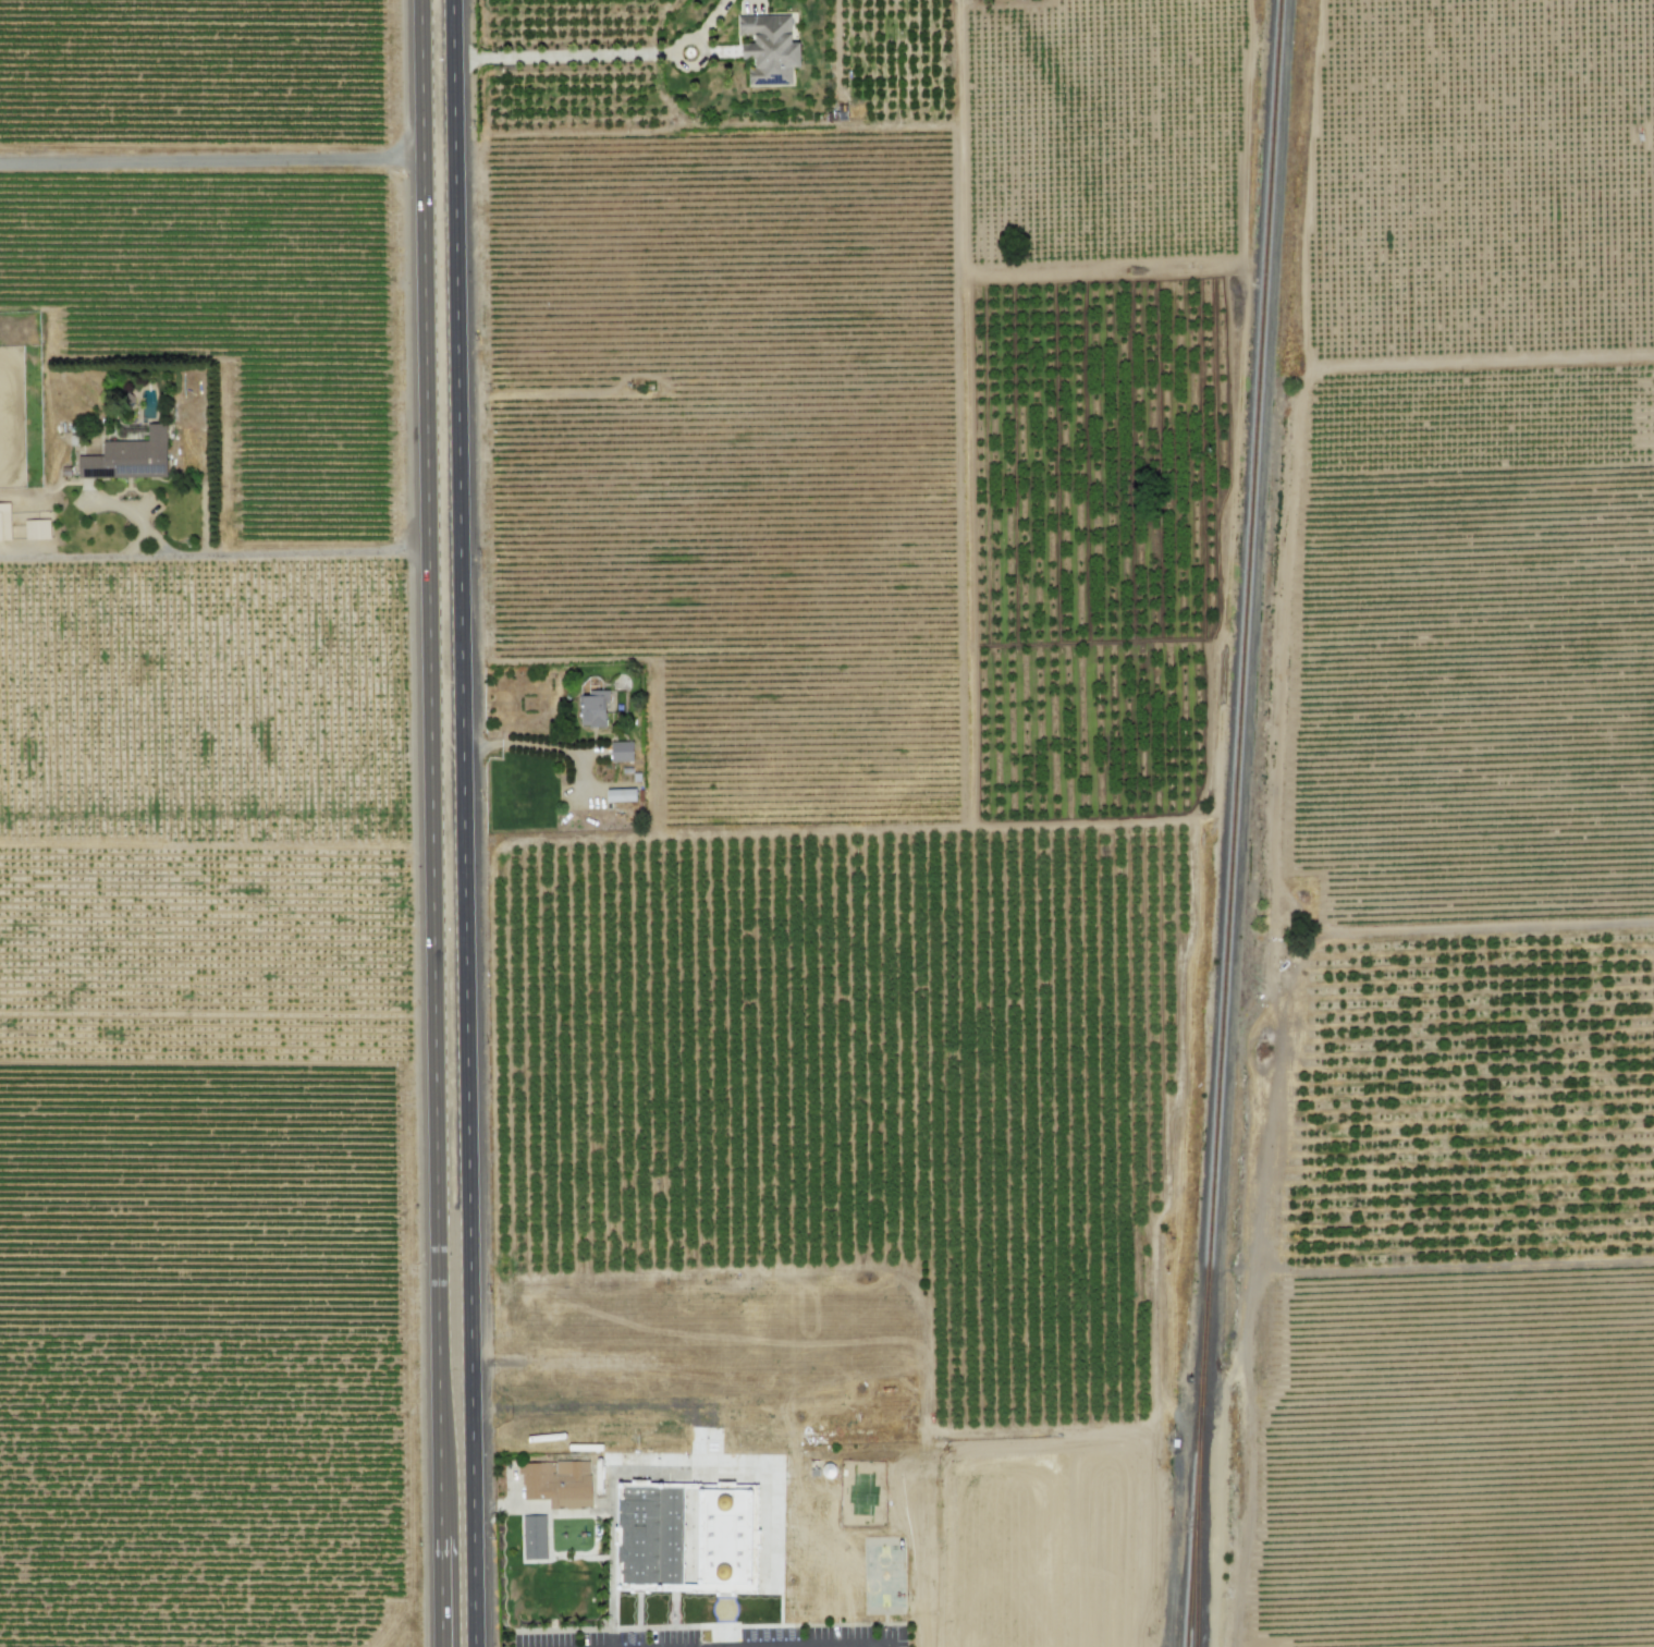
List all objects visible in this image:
road: (697, 27)
road: (563, 49)
building: (768, 49)
road: (212, 161)
building: (127, 457)
building: (4, 522)
building: (36, 529)
road: (212, 556)
railway: (1246, 707)
building: (592, 708)
road: (531, 746)
building: (621, 751)
building: (620, 795)
road: (430, 823)
road: (468, 823)
building: (556, 1483)
railway: (1200, 1530)
railway: (1203, 1530)
building: (534, 1537)
building: (684, 1538)
road: (712, 1634)
road: (822, 1645)
road: (887, 1645)

